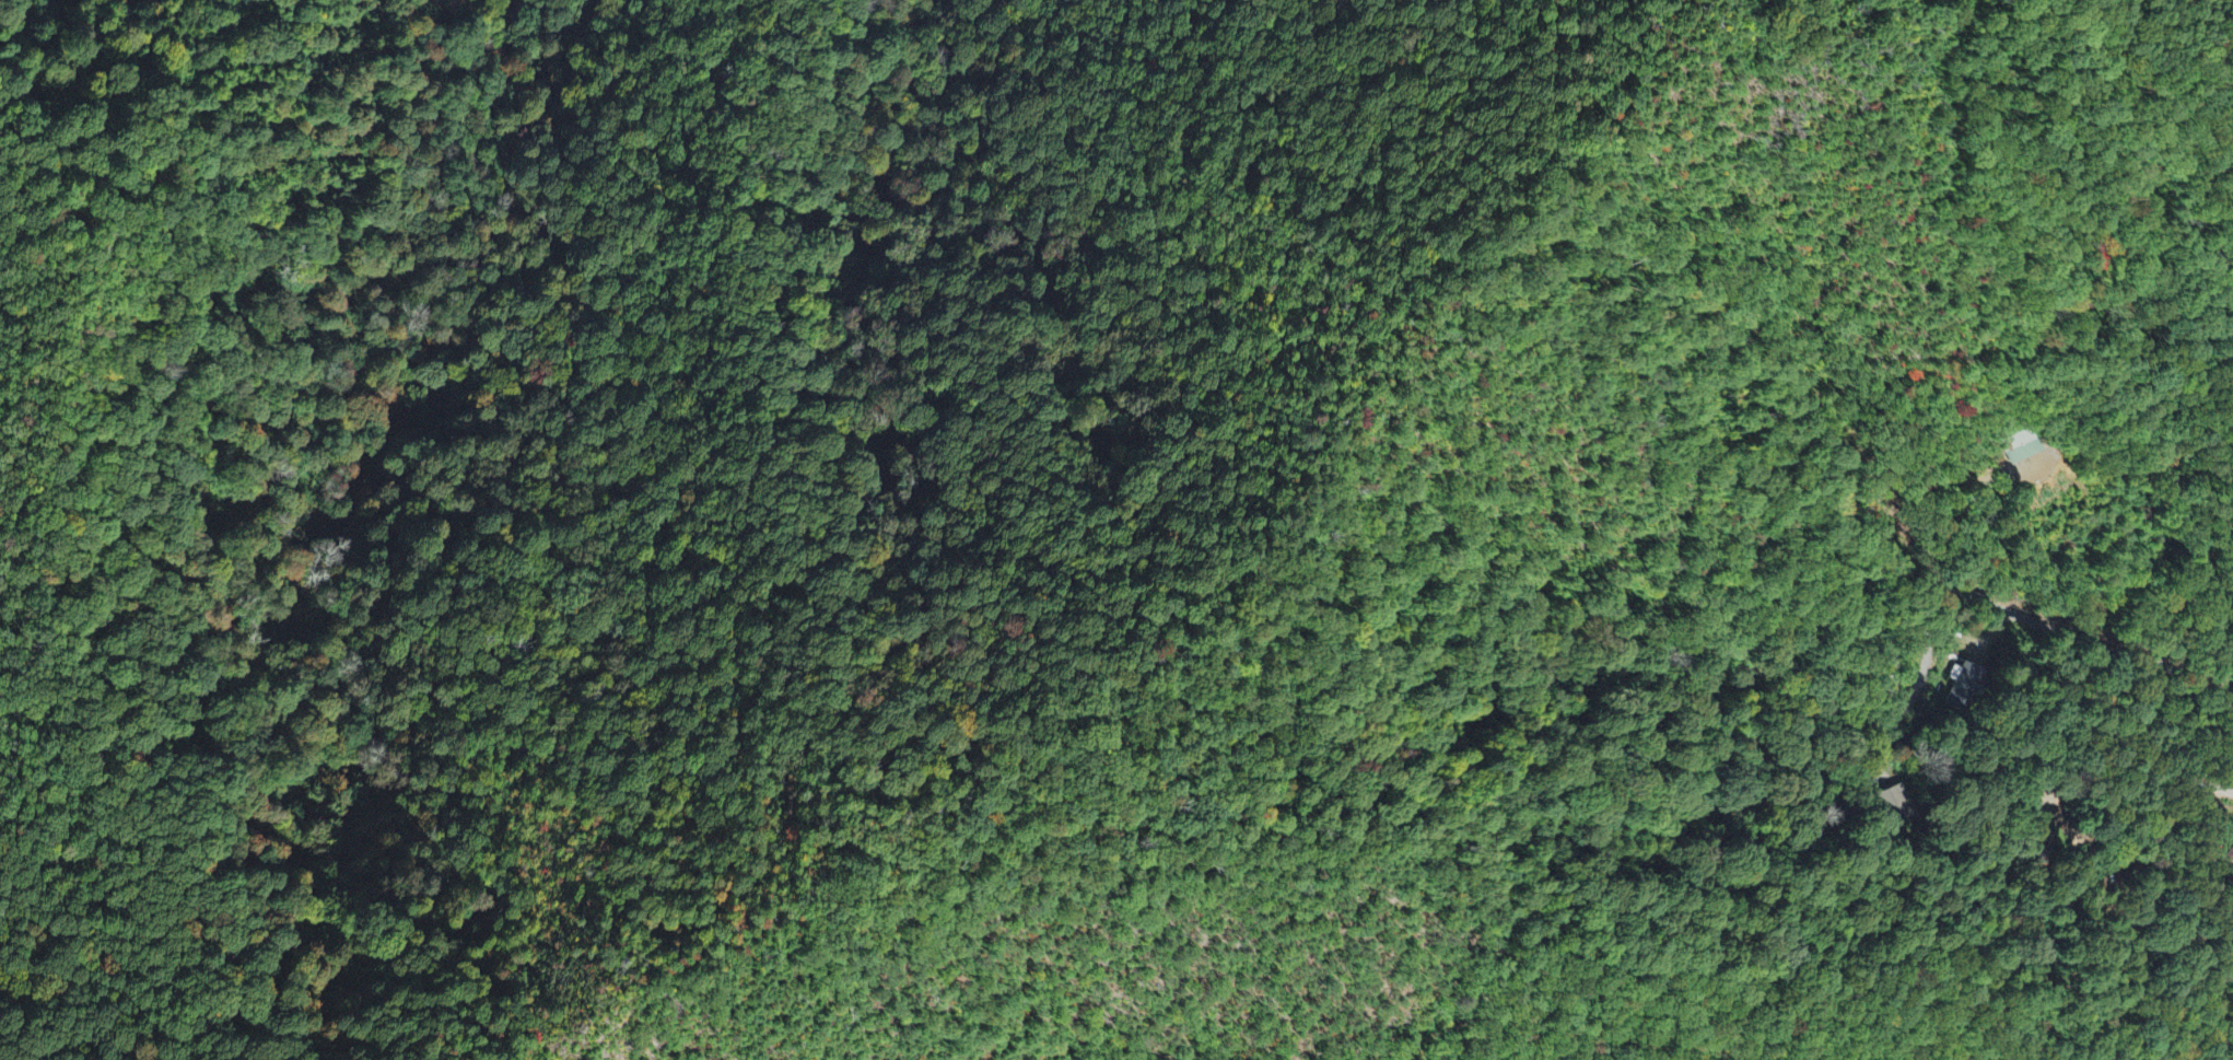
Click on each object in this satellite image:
road: (1877, 538)
road: (2036, 620)
building: (1966, 687)
building: (2229, 854)
road: (2115, 888)
road: (2220, 1050)

